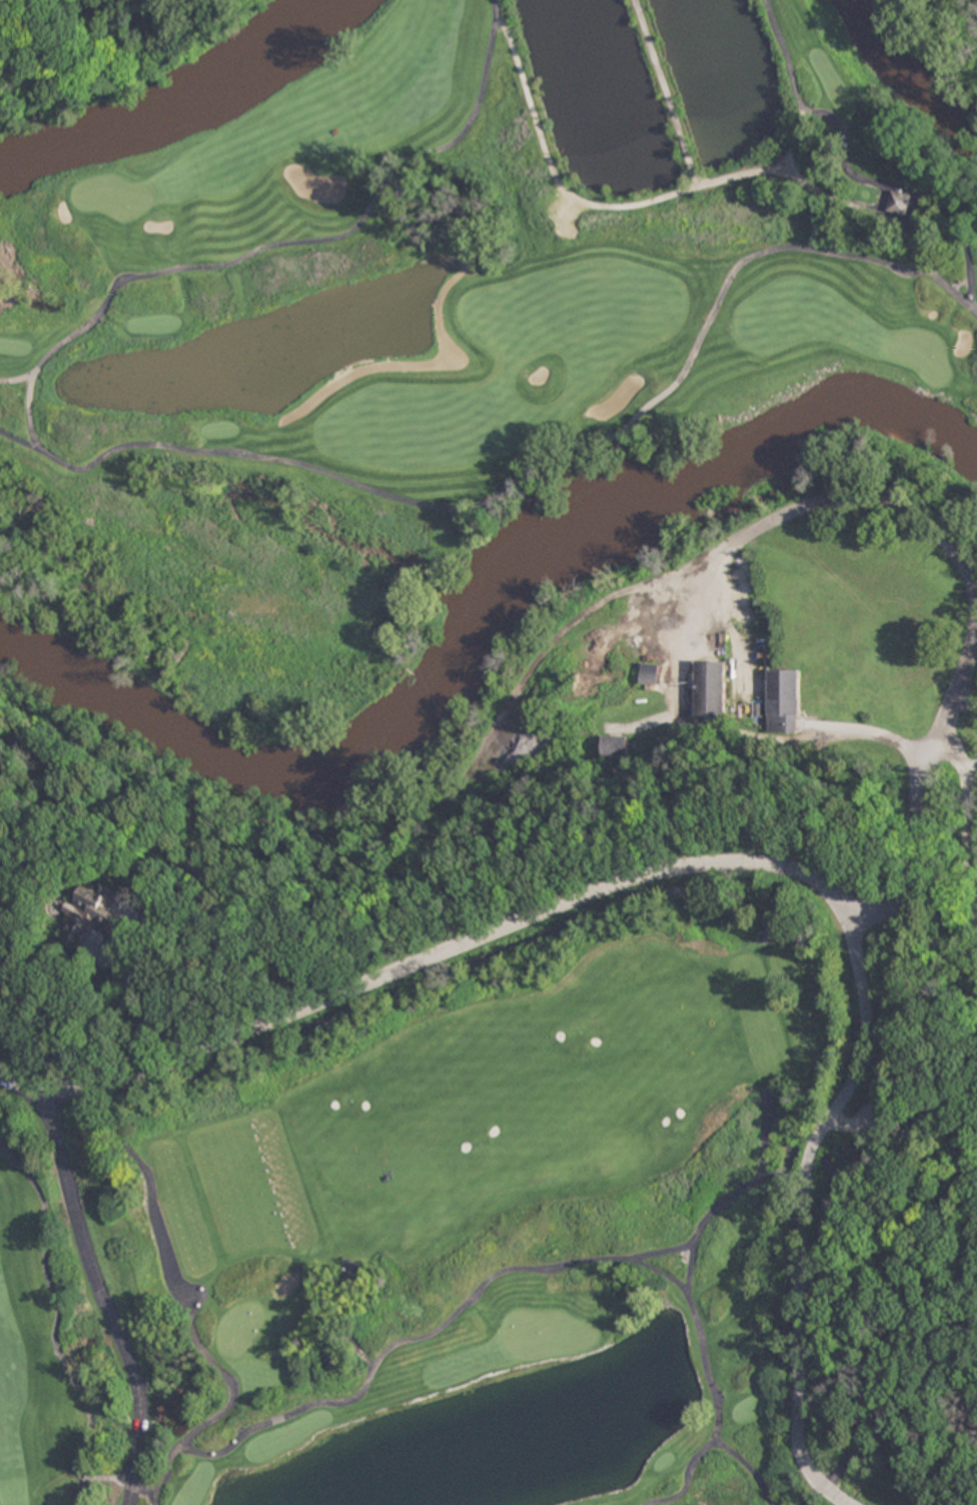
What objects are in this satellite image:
park: (98, 46)
river: (905, 72)
river: (179, 106)
road: (806, 113)
road: (543, 165)
park: (112, 196)
building: (898, 203)
road: (965, 279)
road: (953, 298)
park: (921, 354)
road: (172, 452)
road: (928, 526)
river: (492, 636)
building: (651, 673)
building: (711, 690)
building: (783, 701)
road: (867, 729)
building: (616, 746)
road: (924, 758)
park: (500, 775)
road: (726, 862)
building: (96, 914)
road: (101, 1295)
park: (547, 1333)
road: (365, 1369)
road: (704, 1380)
road: (683, 1480)
road: (797, 1500)

